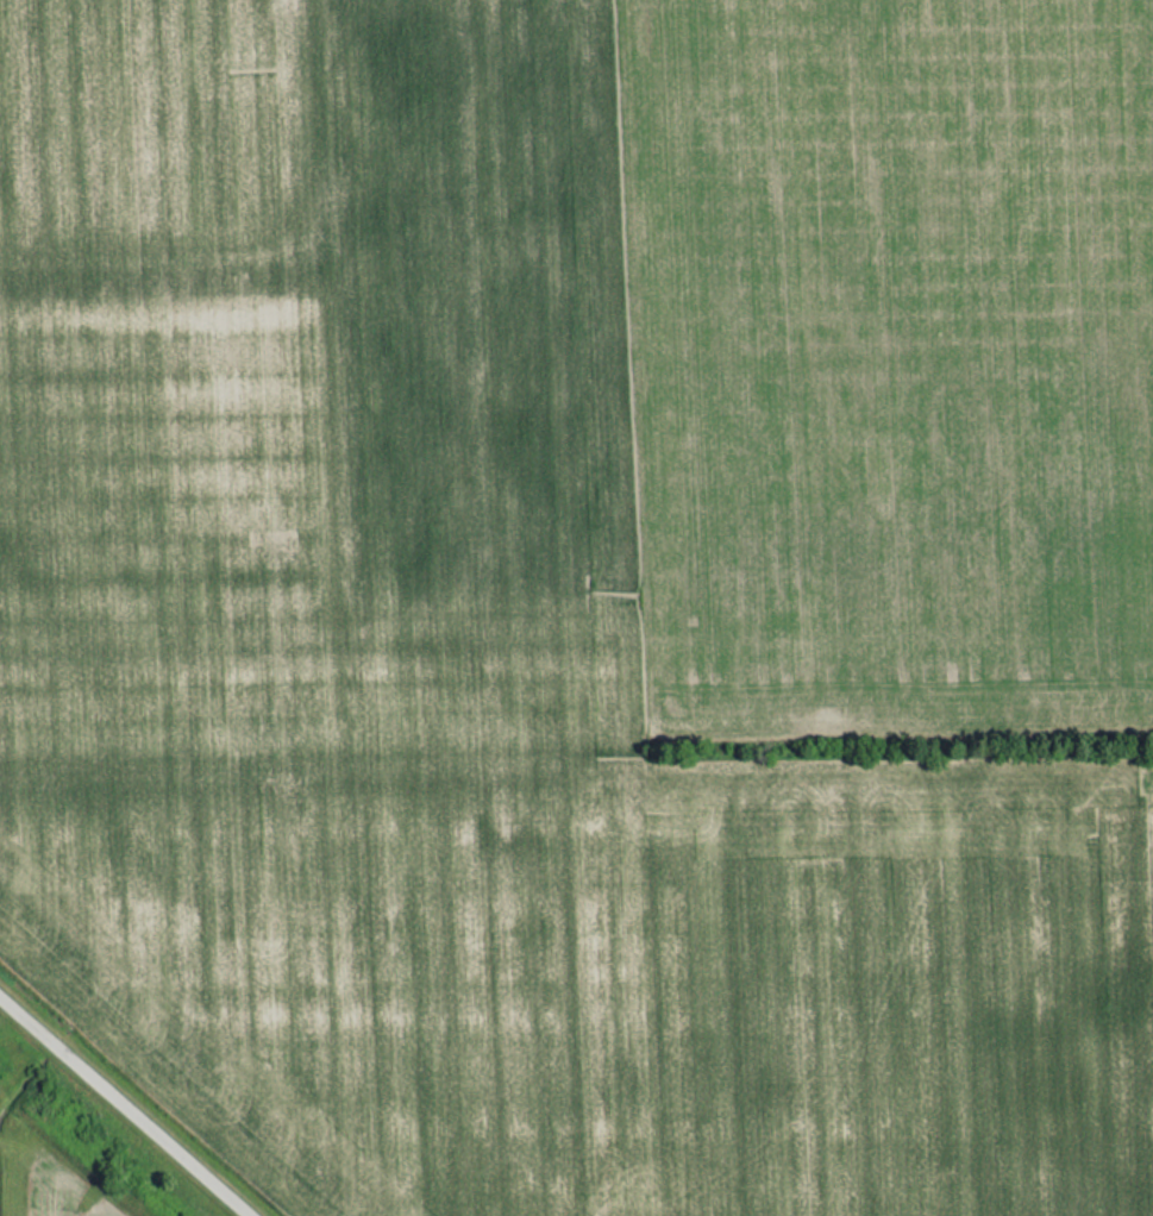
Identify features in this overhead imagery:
crop: (886, 363)
crop: (471, 684)
road: (124, 1107)
railway: (70, 1154)
crop: (61, 1192)

